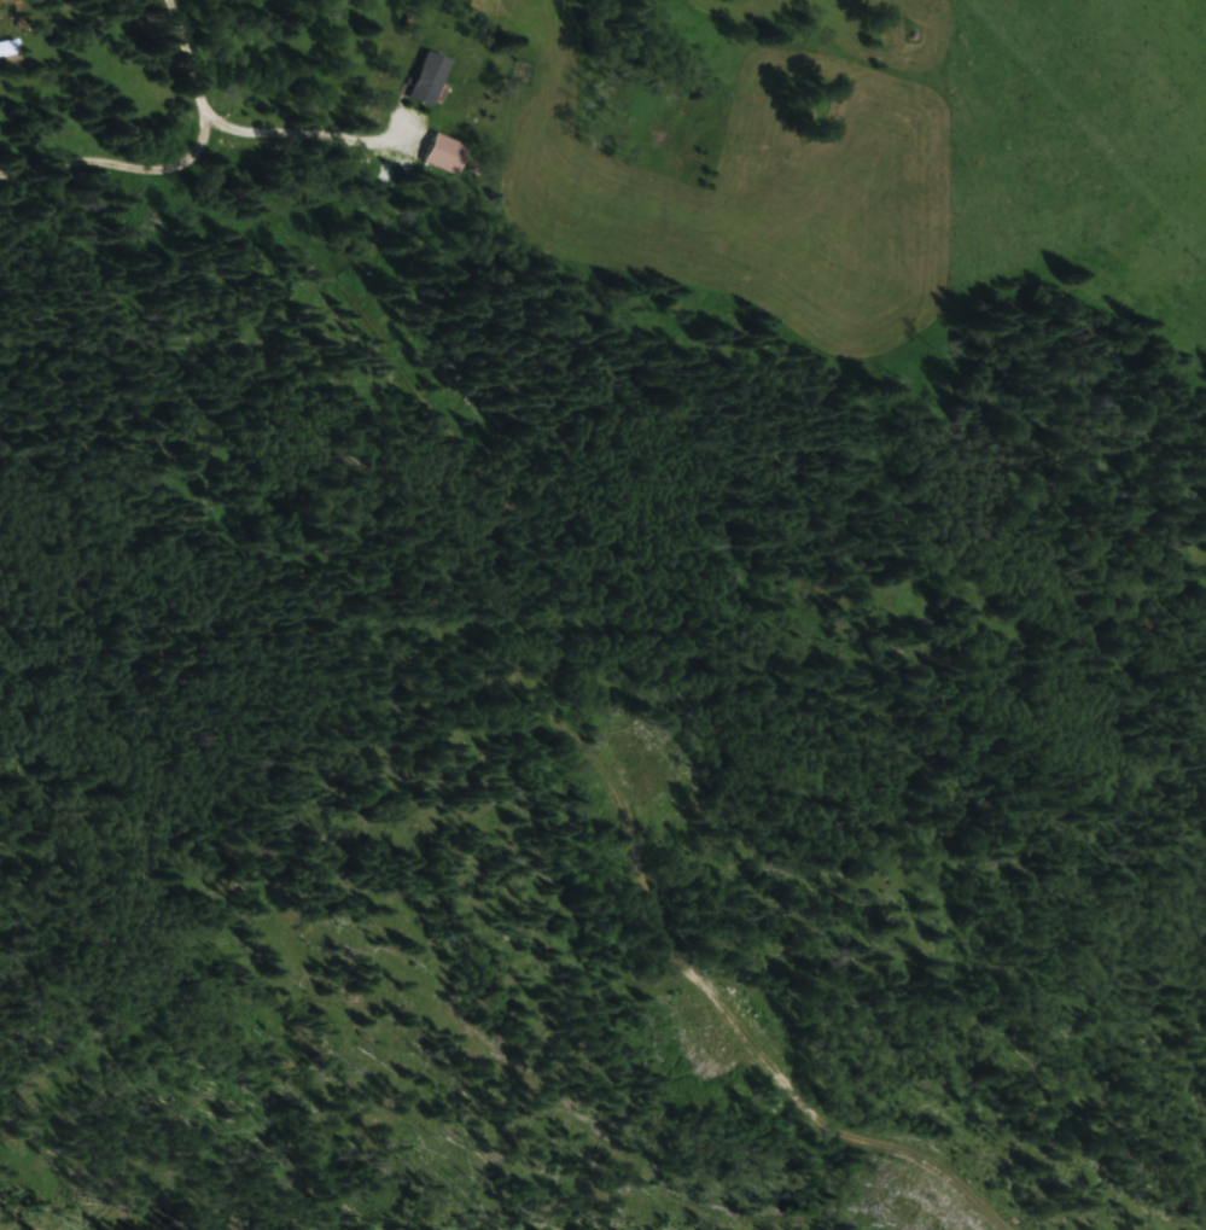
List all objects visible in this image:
building: (10, 47)
building: (430, 77)
building: (444, 155)
road: (187, 169)

